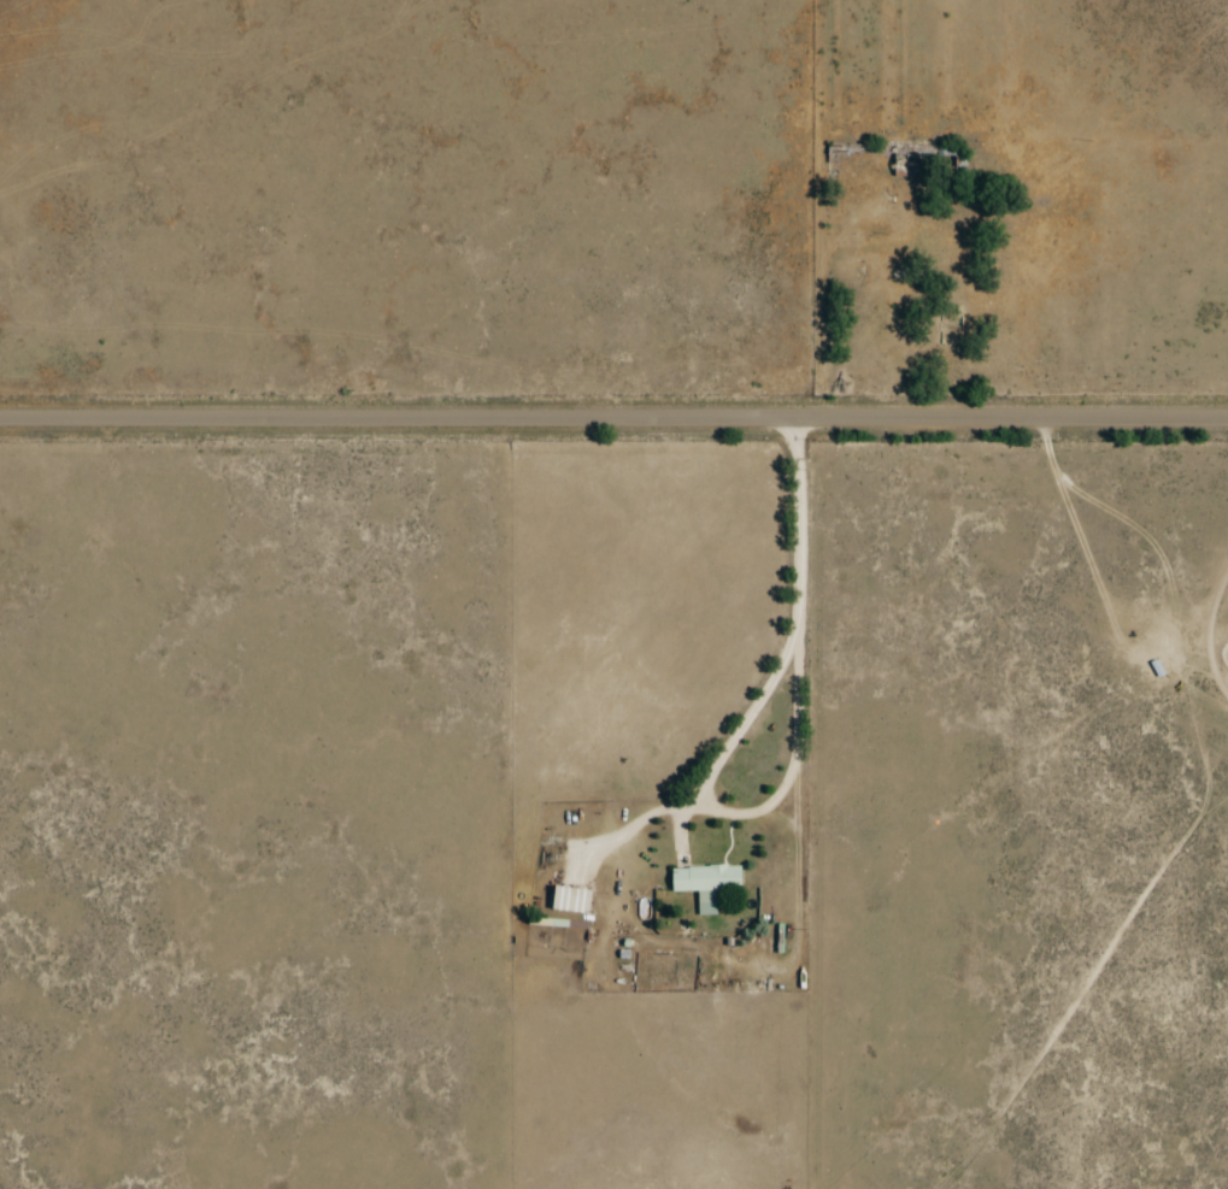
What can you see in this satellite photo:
road: (833, 214)
road: (613, 428)
building: (705, 881)
building: (570, 900)

